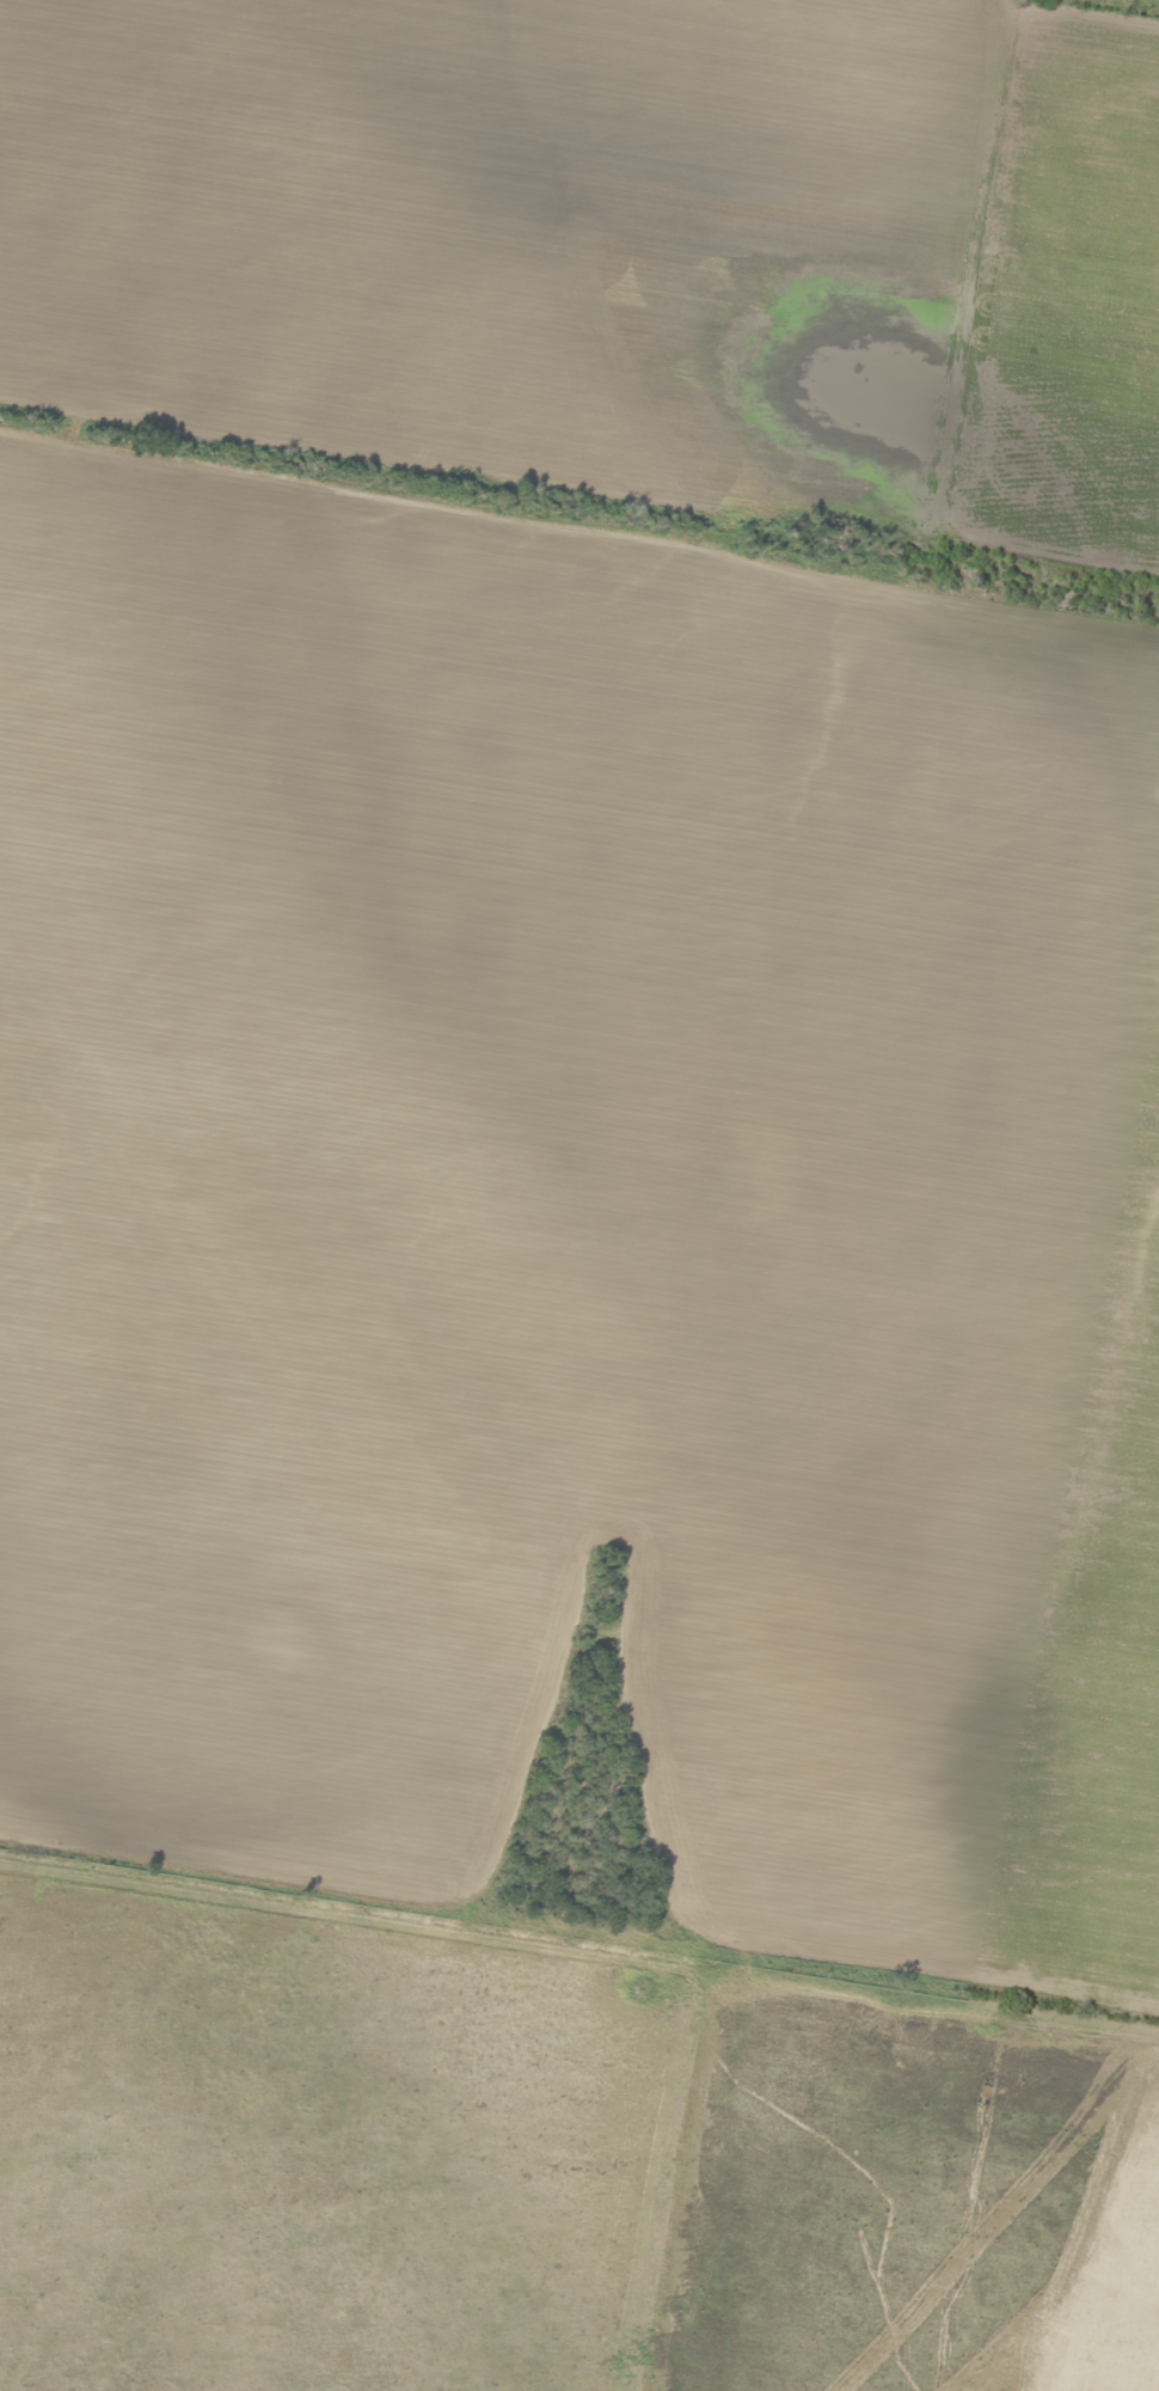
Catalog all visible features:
road: (579, 500)

